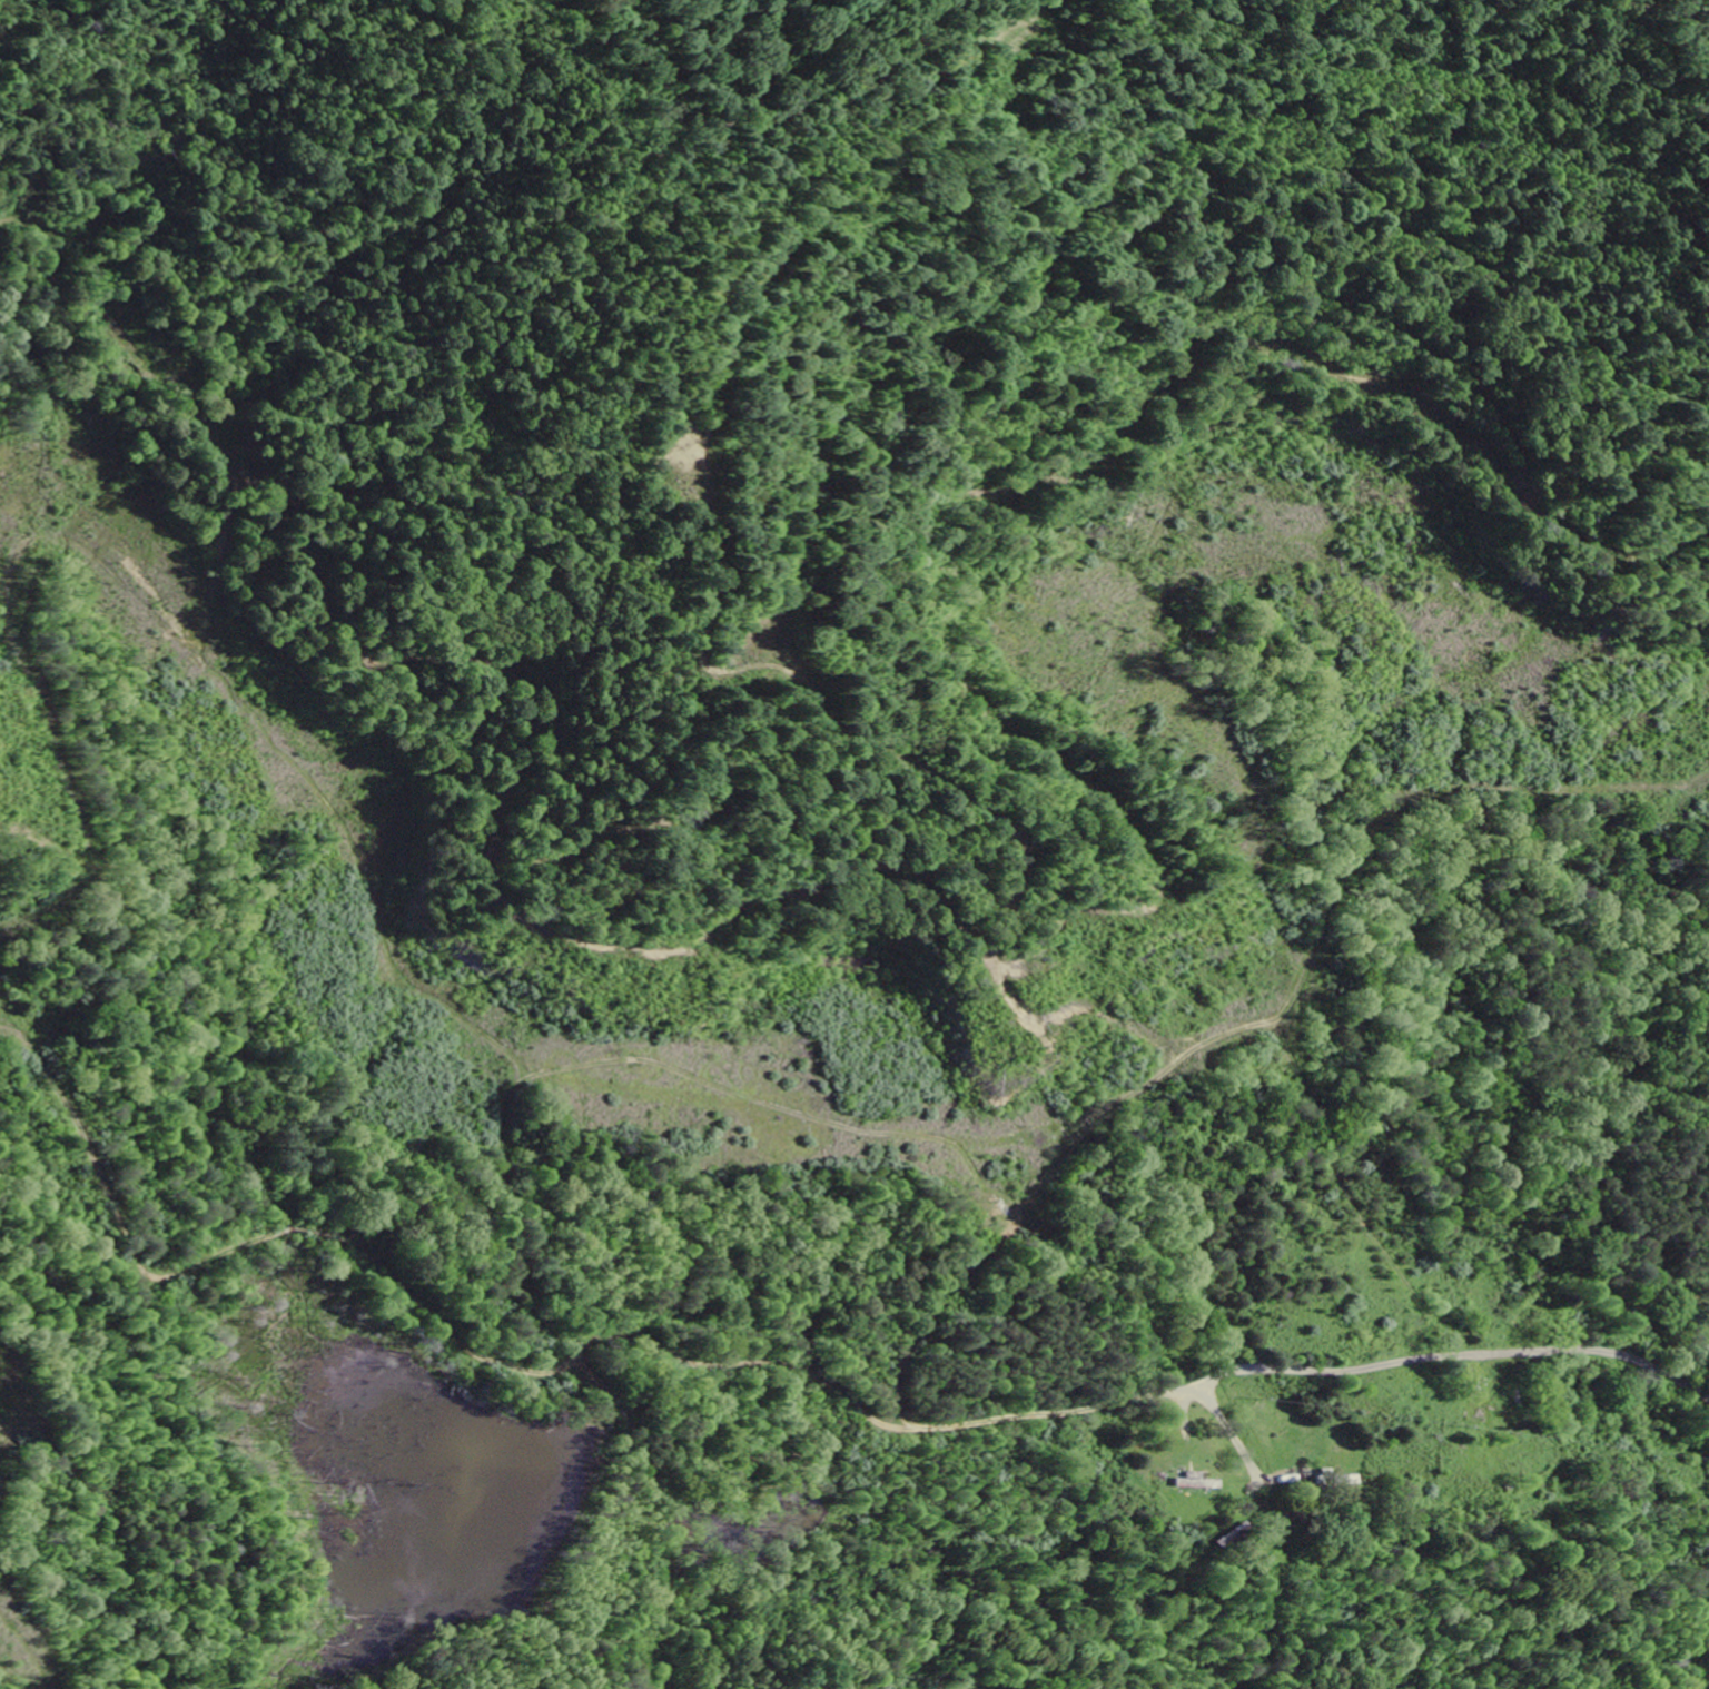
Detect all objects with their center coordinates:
road: (1458, 1355)

